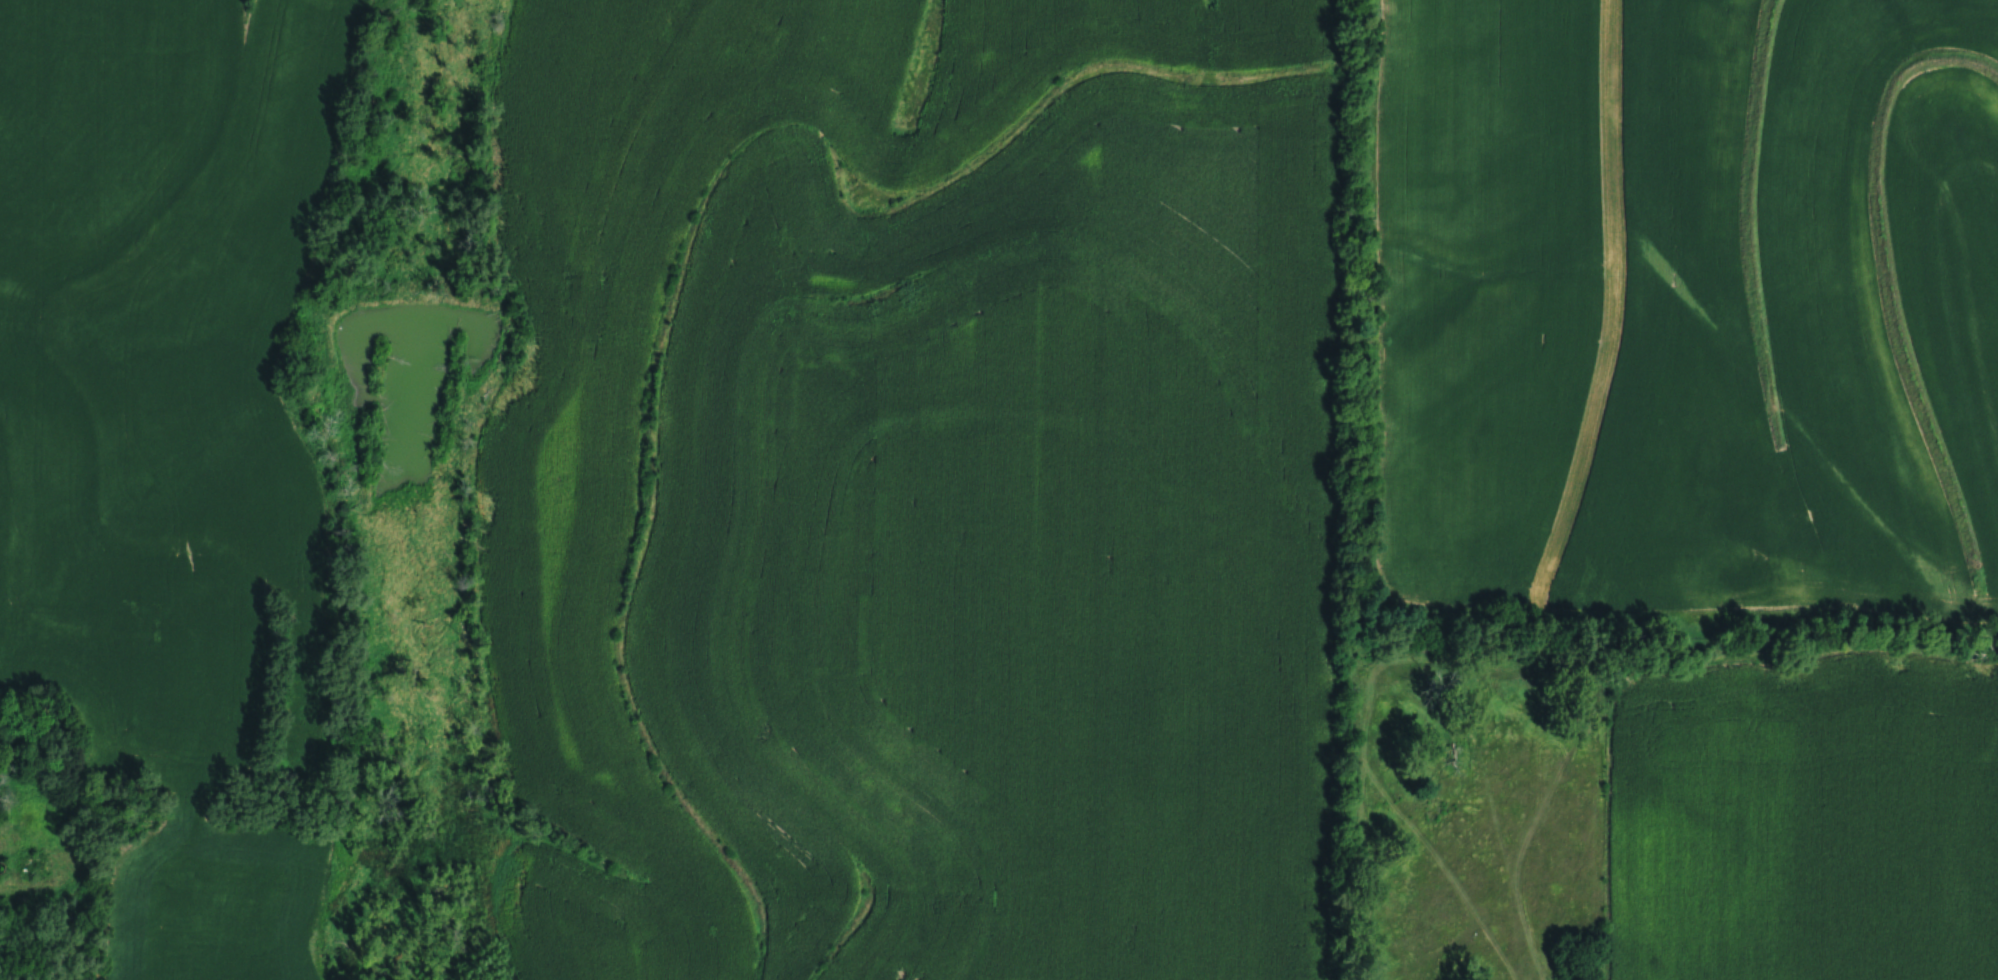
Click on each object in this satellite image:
building: (30, 815)

